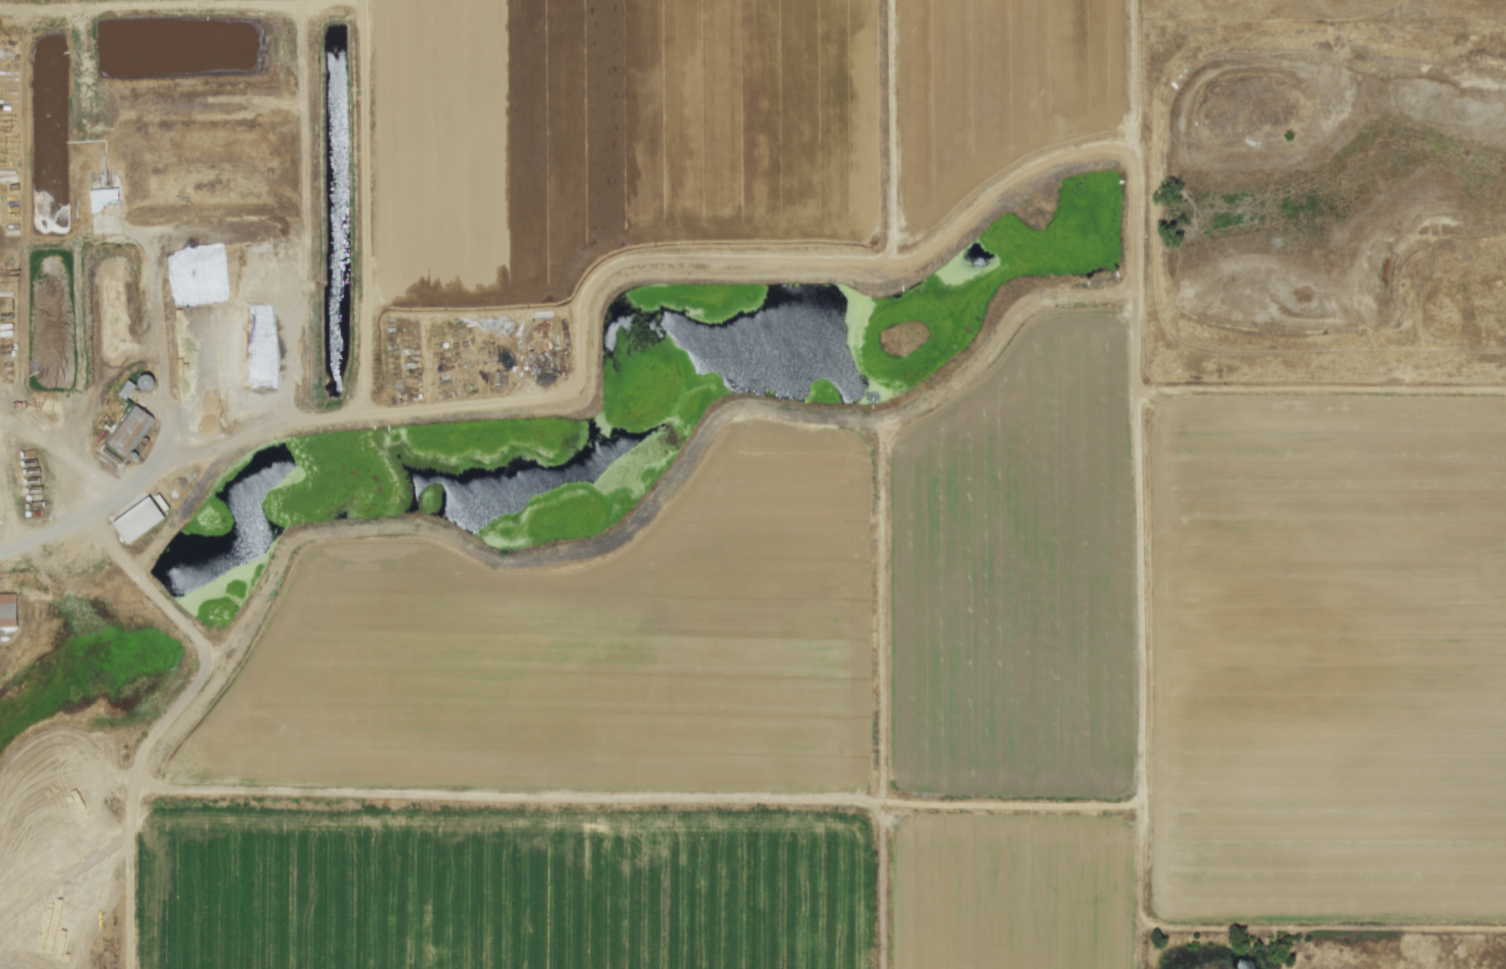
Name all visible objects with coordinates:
road: (341, 413)
building: (128, 429)
road: (156, 447)
building: (136, 518)
building: (7, 609)
crop: (887, 697)

